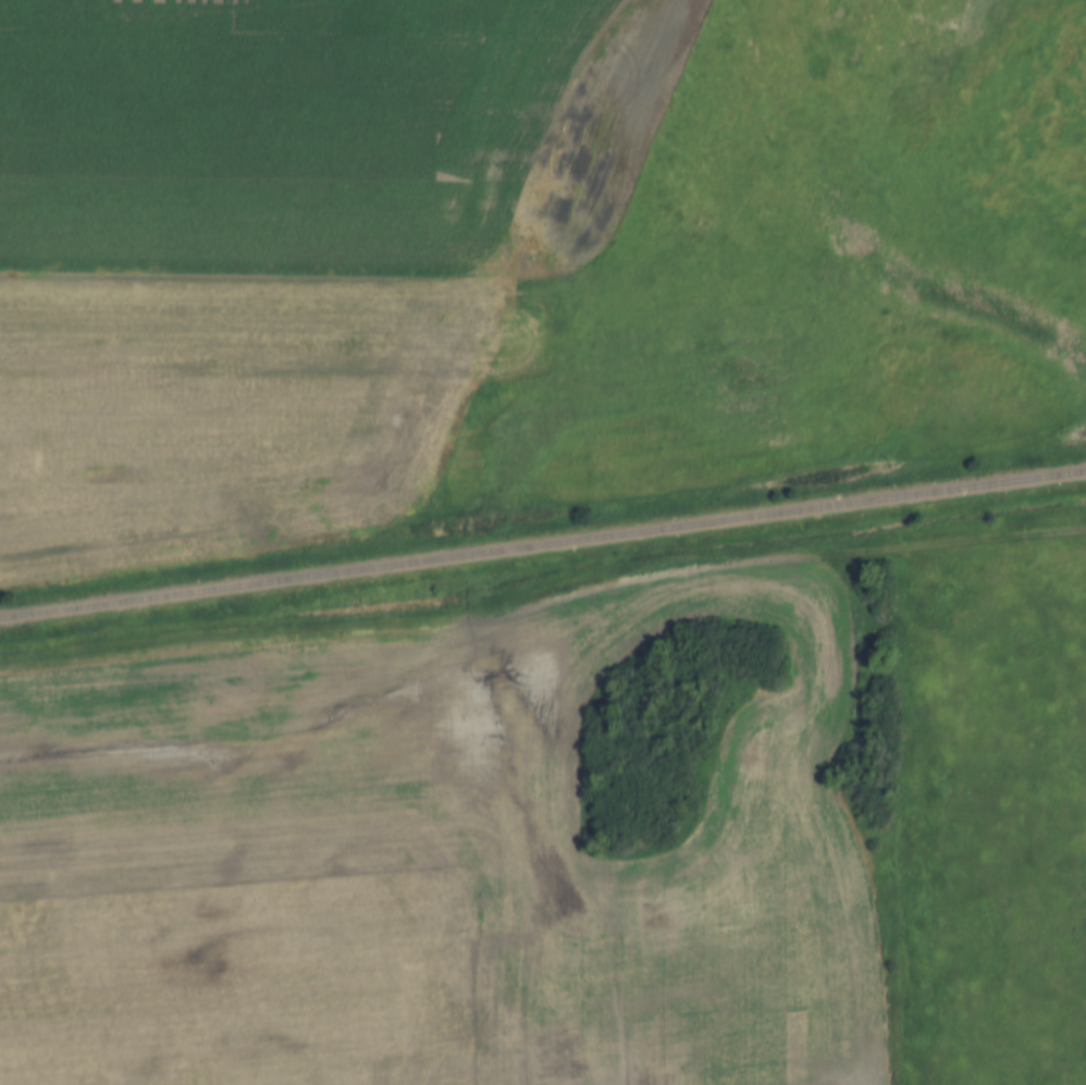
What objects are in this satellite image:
railway: (543, 544)
road: (542, 597)

